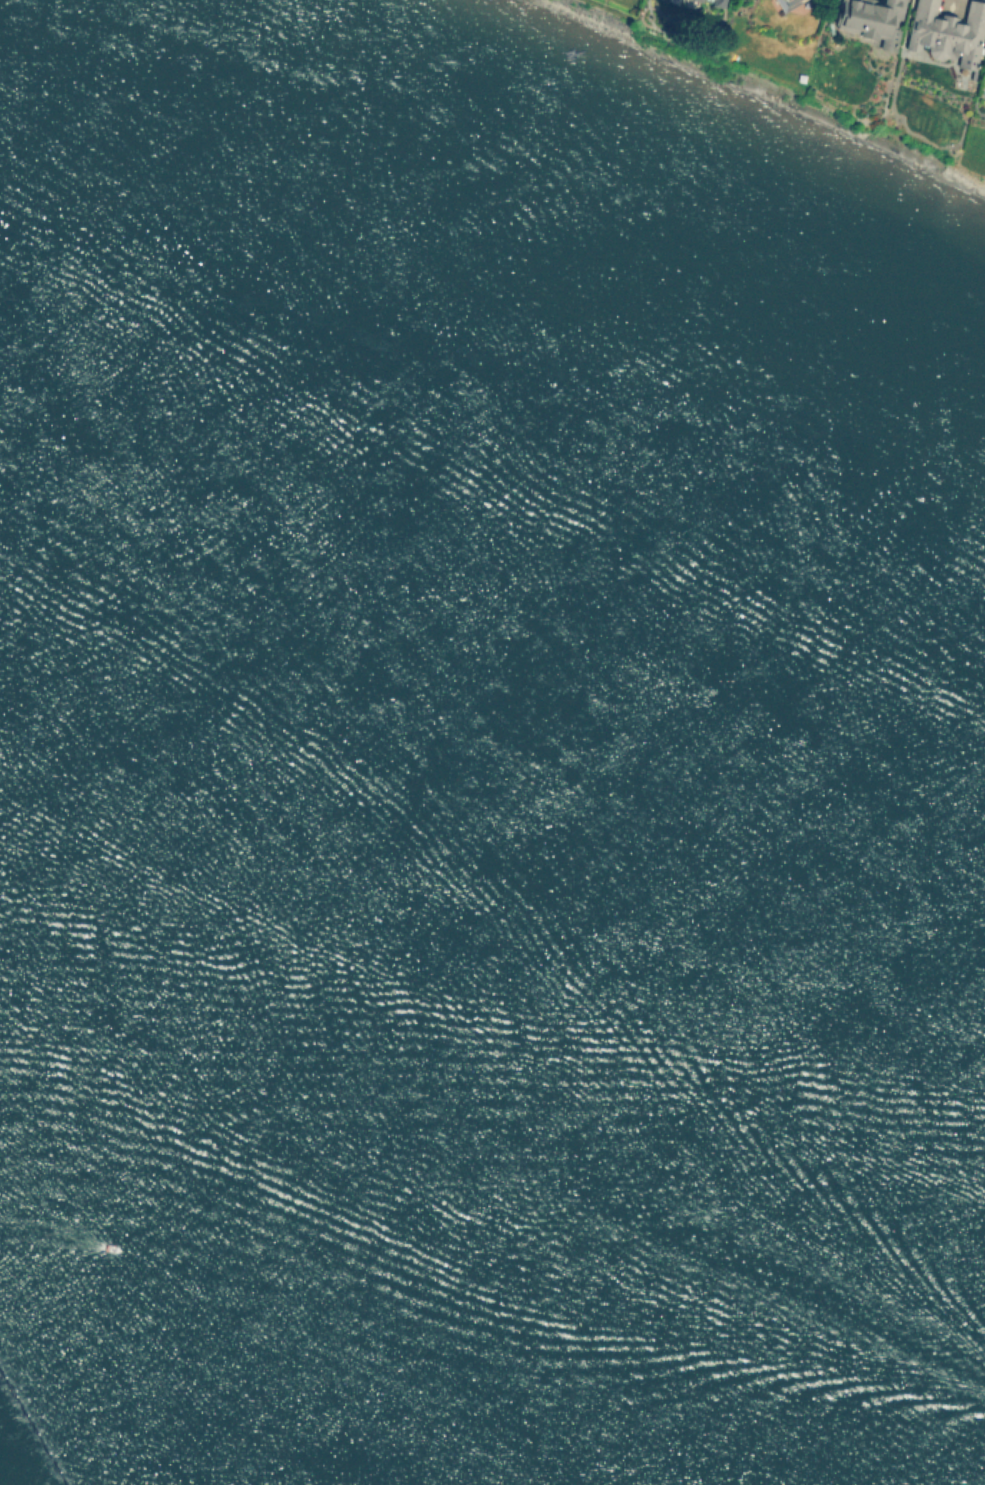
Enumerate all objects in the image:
building: (706, 0)
building: (715, 1)
building: (783, 3)
building: (872, 19)
building: (946, 32)
building: (983, 72)
river: (492, 767)

